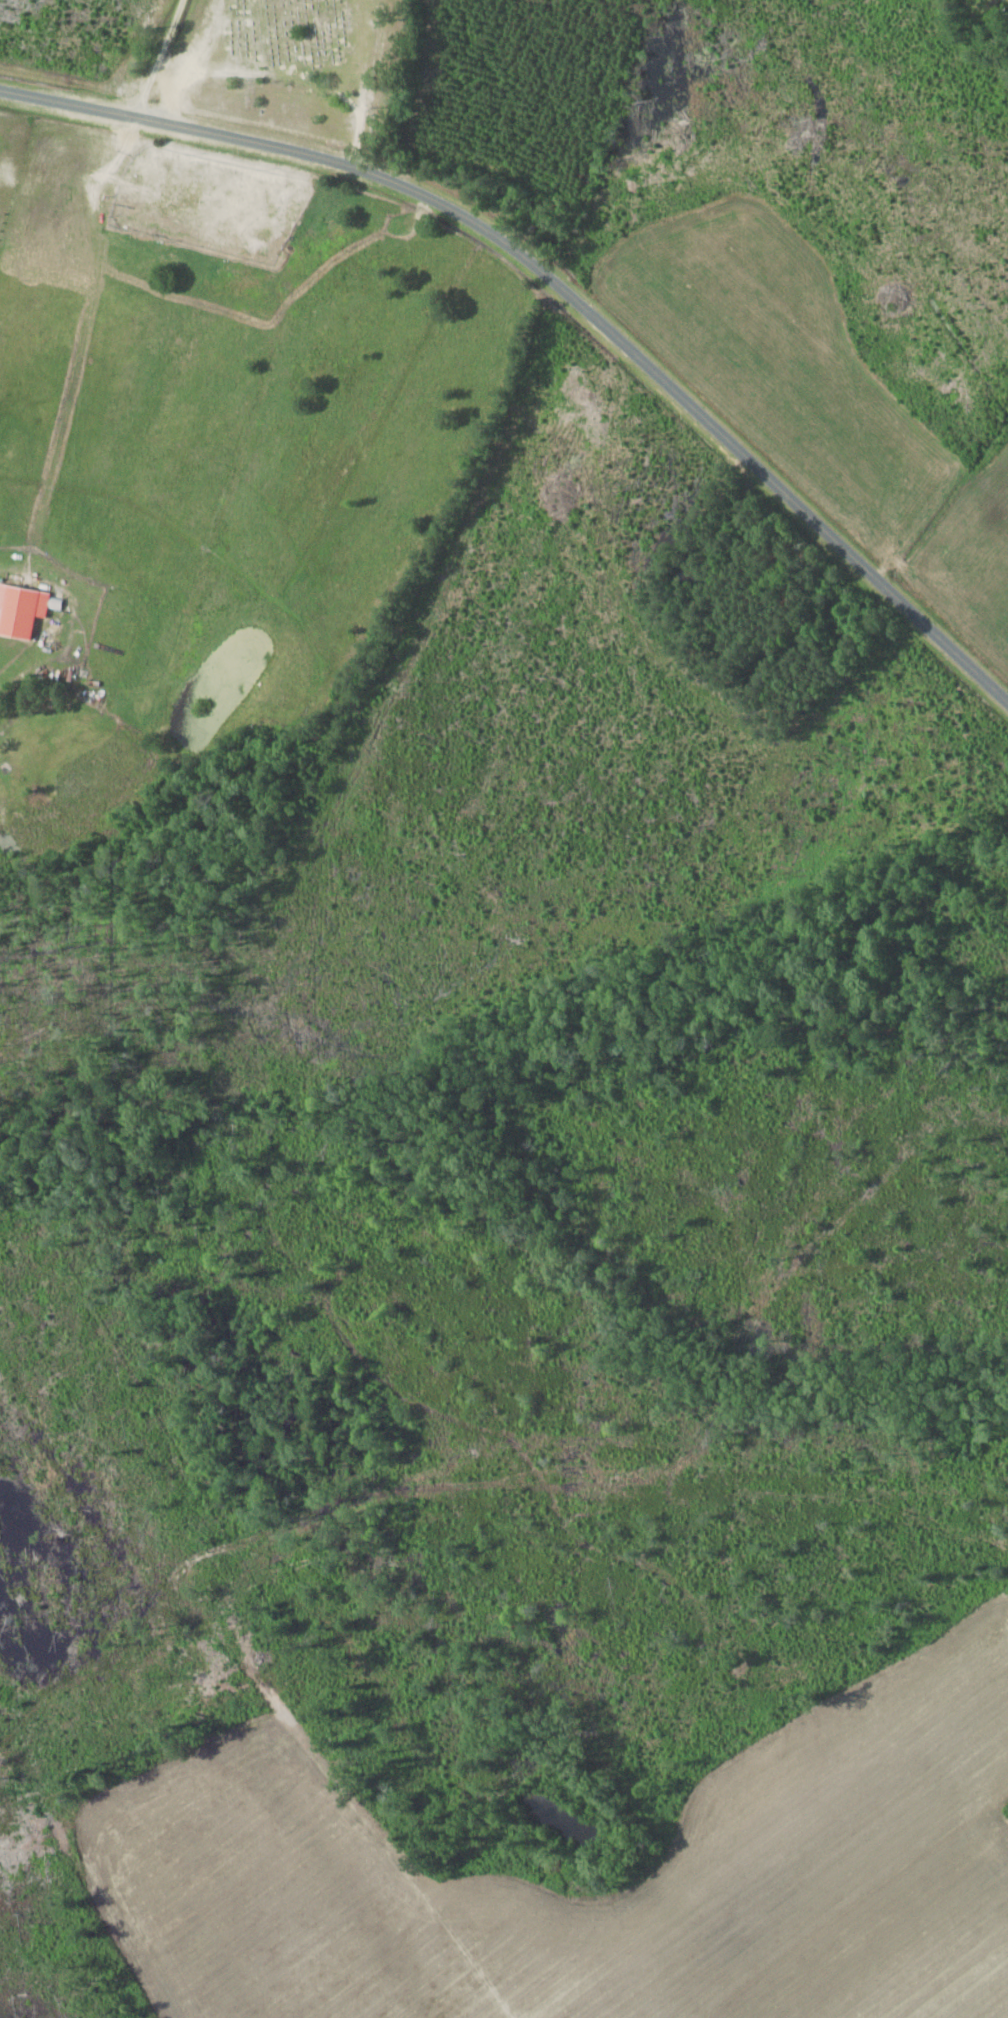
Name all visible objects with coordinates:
park: (293, 64)
road: (563, 287)
building: (19, 610)

